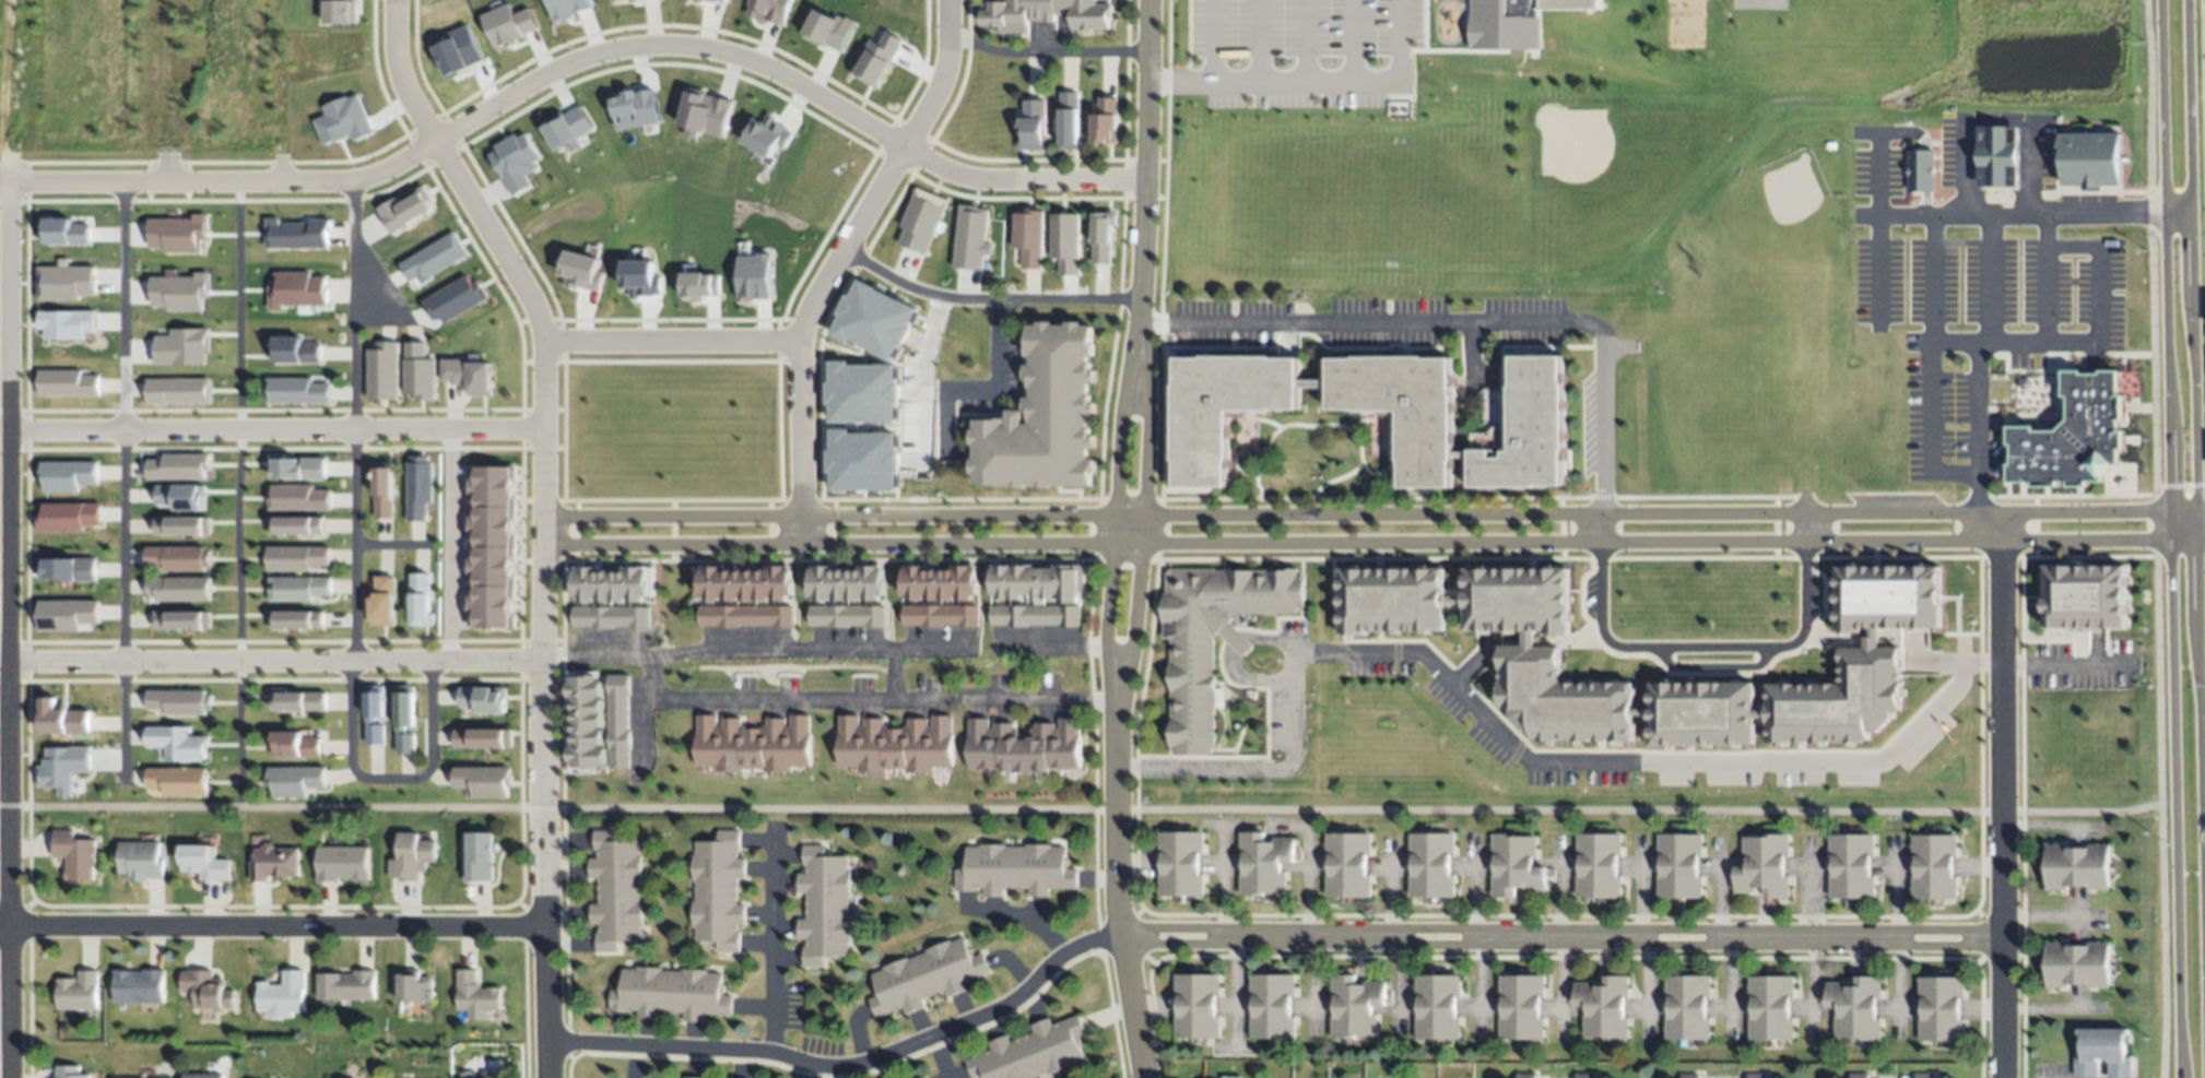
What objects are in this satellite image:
building: (621, 0)
building: (715, 1)
building: (1573, 3)
building: (569, 8)
building: (770, 11)
building: (340, 12)
building: (1043, 12)
building: (509, 25)
building: (829, 31)
building: (1521, 33)
road: (1212, 40)
road: (669, 48)
building: (458, 52)
road: (1045, 56)
building: (879, 60)
road: (941, 79)
road: (1346, 80)
road: (1179, 82)
road: (169, 91)
building: (635, 109)
building: (706, 114)
building: (1069, 117)
building: (1106, 118)
building: (343, 121)
building: (1033, 122)
building: (567, 130)
building: (768, 137)
building: (1995, 162)
gas station: (1995, 162)
building: (515, 163)
building: (2088, 164)
building: (1920, 174)
road: (222, 182)
road: (1018, 182)
road: (1141, 189)
road: (873, 202)
building: (404, 211)
road: (1894, 217)
building: (921, 222)
building: (62, 233)
building: (178, 235)
building: (296, 235)
building: (971, 238)
building: (1098, 239)
building: (1024, 241)
building: (1062, 246)
road: (2148, 257)
building: (433, 260)
road: (871, 268)
building: (576, 270)
building: (754, 279)
building: (639, 280)
building: (64, 282)
road: (1991, 286)
building: (699, 287)
road: (2099, 291)
building: (296, 292)
building: (179, 293)
building: (453, 300)
road: (1064, 300)
road: (2048, 303)
road: (396, 304)
building: (875, 321)
building: (66, 324)
road: (1463, 324)
road: (1956, 337)
road: (771, 343)
building: (181, 347)
building: (295, 352)
road: (1933, 366)
building: (381, 372)
building: (417, 372)
road: (920, 374)
building: (467, 376)
road: (997, 380)
building: (67, 383)
building: (177, 392)
building: (296, 392)
building: (862, 393)
road: (3, 412)
building: (1047, 414)
road: (274, 428)
building: (1526, 429)
building: (2068, 430)
building: (1427, 434)
building: (862, 462)
building: (178, 467)
building: (297, 469)
building: (67, 476)
road: (122, 482)
building: (417, 488)
building: (384, 489)
road: (237, 496)
building: (181, 497)
building: (297, 498)
road: (1115, 514)
road: (1355, 514)
building: (68, 518)
road: (1142, 518)
road: (542, 520)
building: (295, 524)
building: (182, 526)
road: (2200, 526)
road: (2154, 528)
road: (2168, 538)
road: (2194, 538)
road: (1384, 543)
road: (451, 544)
road: (7, 546)
building: (490, 548)
building: (299, 555)
building: (180, 556)
building: (67, 570)
road: (354, 579)
building: (821, 580)
building: (877, 580)
building: (916, 580)
building: (934, 580)
building: (972, 580)
building: (709, 581)
building: (780, 581)
building: (839, 581)
building: (954, 581)
building: (727, 582)
building: (858, 582)
building: (579, 583)
building: (637, 583)
building: (744, 583)
building: (759, 583)
building: (599, 584)
building: (616, 584)
building: (300, 585)
building: (180, 587)
road: (3, 589)
building: (1038, 592)
building: (1884, 593)
building: (1518, 596)
building: (1390, 597)
building: (422, 599)
building: (385, 601)
building: (2075, 601)
road: (3, 604)
building: (945, 614)
building: (69, 616)
building: (747, 616)
building: (849, 616)
building: (610, 617)
building: (297, 618)
building: (184, 619)
road: (1699, 648)
road: (1054, 653)
road: (273, 660)
road: (593, 661)
road: (2061, 665)
road: (1709, 674)
road: (2157, 675)
building: (602, 685)
building: (299, 696)
building: (484, 697)
building: (1557, 697)
building: (1837, 698)
building: (1191, 699)
building: (181, 700)
building: (375, 701)
building: (603, 702)
building: (406, 706)
road: (696, 711)
building: (1703, 714)
building: (618, 719)
building: (63, 720)
building: (603, 720)
building: (376, 731)
building: (485, 736)
building: (603, 737)
building: (406, 739)
building: (180, 741)
building: (294, 742)
building: (897, 743)
building: (755, 744)
building: (1024, 744)
road: (1507, 744)
building: (602, 757)
building: (63, 769)
building: (180, 778)
building: (486, 779)
building: (294, 780)
road: (1996, 795)
road: (1080, 810)
building: (75, 854)
building: (410, 855)
building: (479, 855)
building: (141, 858)
building: (204, 860)
building: (1180, 861)
building: (1263, 861)
building: (273, 862)
building: (342, 862)
building: (1347, 862)
building: (1599, 862)
building: (1431, 863)
building: (1517, 863)
building: (1681, 863)
building: (1765, 863)
building: (1852, 864)
building: (1934, 864)
building: (2077, 864)
road: (1112, 865)
building: (1014, 866)
road: (1222, 886)
building: (616, 889)
building: (718, 889)
building: (825, 903)
road: (1021, 916)
road: (2049, 917)
road: (271, 926)
road: (1557, 937)
road: (771, 940)
road: (2160, 943)
building: (2078, 962)
building: (924, 974)
building: (138, 983)
building: (345, 984)
building: (414, 985)
building: (207, 988)
building: (78, 990)
building: (474, 991)
building: (670, 991)
building: (281, 994)
building: (1195, 1003)
building: (1271, 1003)
building: (1771, 1003)
building: (1355, 1004)
building: (1437, 1004)
building: (1520, 1004)
building: (1604, 1004)
building: (1687, 1004)
building: (1856, 1004)
building: (1941, 1006)
building: (1028, 1050)
building: (2102, 1051)
road: (847, 1067)
building: (70, 1071)
building: (203, 1075)
building: (1526, 1075)
building: (1585, 1075)
building: (1859, 1075)
building: (1925, 1075)
building: (921, 1076)
building: (1690, 1076)
building: (1765, 1076)
building: (139, 1077)
building: (474, 1077)
building: (683, 1077)
building: (692, 1077)
building: (1836, 1077)

